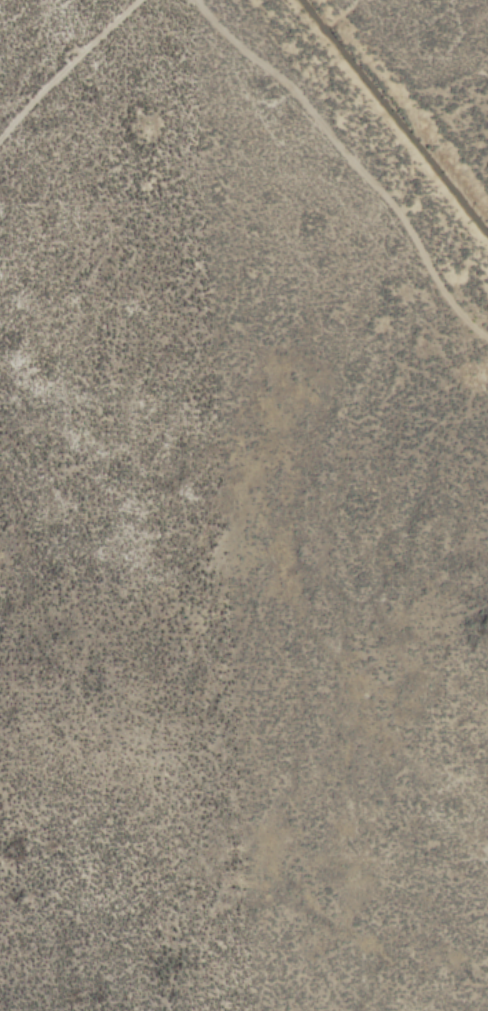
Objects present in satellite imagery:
road: (66, 68)
road: (353, 159)

